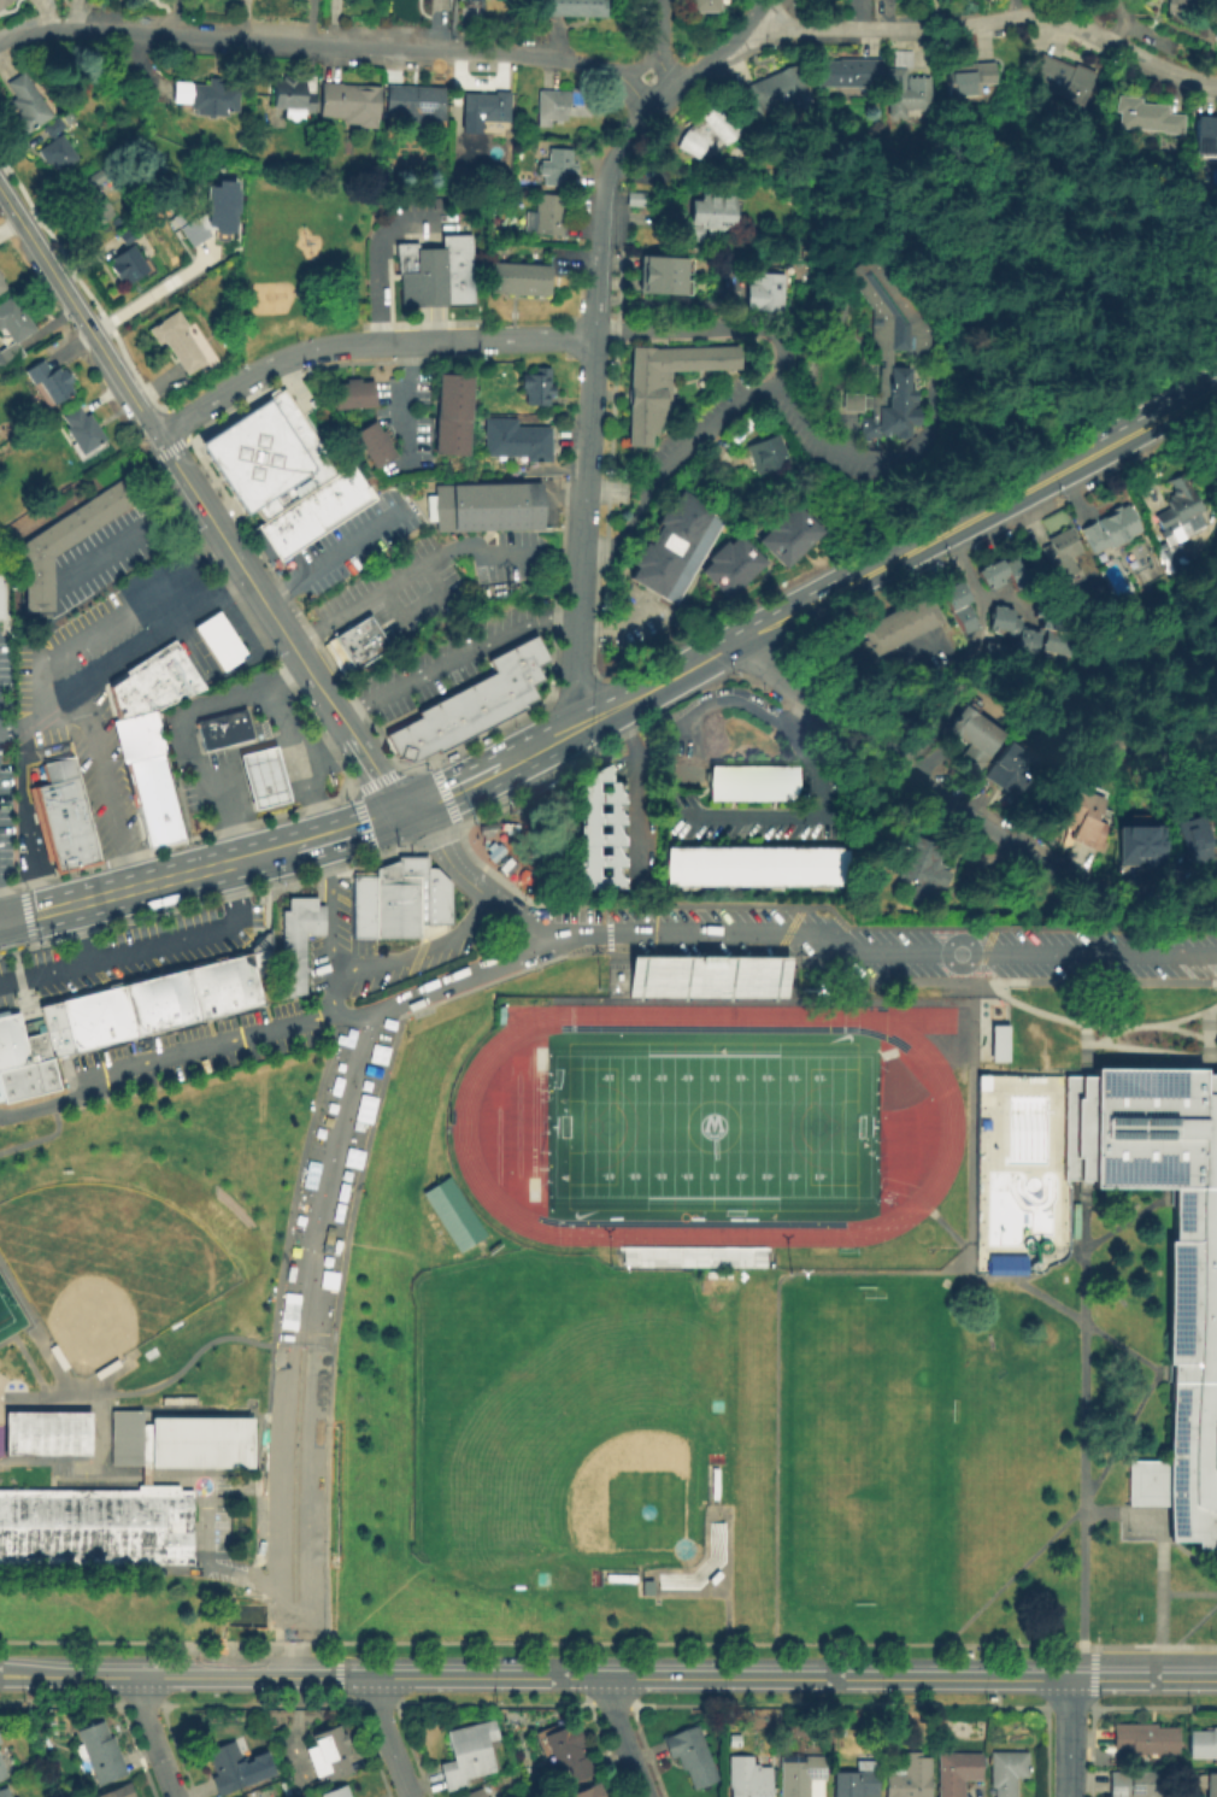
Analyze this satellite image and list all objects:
building: (6, 4)
building: (696, 6)
building: (1172, 6)
building: (572, 8)
building: (1216, 10)
road: (762, 12)
road: (996, 19)
road: (331, 45)
road: (657, 46)
road: (640, 66)
building: (841, 72)
building: (965, 77)
building: (1060, 78)
building: (904, 90)
building: (764, 92)
building: (206, 98)
building: (294, 98)
building: (25, 105)
building: (351, 105)
building: (416, 105)
building: (554, 105)
building: (486, 107)
road: (642, 113)
building: (1140, 114)
building: (880, 127)
building: (52, 128)
building: (1199, 134)
building: (699, 135)
building: (55, 154)
building: (557, 162)
building: (452, 177)
building: (95, 178)
building: (630, 198)
building: (95, 210)
building: (213, 215)
building: (540, 215)
building: (702, 216)
building: (127, 235)
road: (376, 253)
park: (306, 256)
building: (652, 265)
building: (128, 266)
building: (435, 271)
road: (433, 276)
building: (516, 280)
building: (652, 284)
road: (78, 286)
building: (2, 288)
building: (756, 290)
road: (594, 294)
road: (131, 303)
road: (680, 310)
road: (77, 313)
building: (12, 323)
road: (434, 323)
road: (422, 324)
building: (176, 339)
road: (531, 339)
road: (418, 342)
building: (883, 348)
building: (8, 356)
road: (252, 375)
building: (658, 382)
building: (48, 384)
building: (536, 388)
building: (345, 395)
building: (364, 395)
road: (407, 401)
road: (583, 404)
building: (455, 416)
road: (175, 425)
road: (707, 425)
road: (801, 430)
building: (81, 431)
building: (370, 437)
building: (516, 442)
road: (166, 448)
building: (759, 453)
building: (264, 454)
building: (381, 454)
road: (606, 483)
building: (351, 485)
building: (331, 497)
building: (529, 504)
building: (474, 505)
building: (316, 506)
building: (1171, 509)
road: (972, 512)
building: (283, 528)
building: (1103, 529)
road: (205, 535)
building: (781, 536)
road: (127, 538)
road: (535, 540)
building: (65, 544)
building: (668, 550)
building: (1056, 552)
road: (333, 557)
building: (727, 568)
building: (990, 574)
road: (407, 576)
road: (251, 585)
building: (1, 595)
road: (577, 595)
road: (1005, 598)
road: (421, 607)
building: (951, 607)
road: (111, 613)
road: (151, 618)
road: (418, 619)
building: (1057, 623)
road: (522, 626)
road: (615, 626)
building: (894, 626)
building: (1023, 638)
building: (217, 639)
building: (352, 645)
road: (122, 650)
road: (436, 653)
road: (970, 653)
road: (89, 657)
road: (134, 658)
building: (181, 664)
building: (169, 670)
road: (336, 673)
building: (157, 677)
road: (401, 683)
road: (651, 683)
building: (143, 685)
building: (127, 697)
road: (875, 697)
building: (469, 704)
road: (798, 717)
building: (135, 721)
road: (175, 727)
building: (222, 728)
building: (136, 736)
building: (972, 738)
road: (536, 741)
road: (1097, 748)
building: (140, 750)
road: (324, 750)
road: (295, 756)
road: (923, 759)
road: (247, 761)
road: (570, 763)
building: (145, 770)
road: (376, 771)
road: (811, 774)
building: (1007, 774)
building: (260, 776)
gas station: (260, 776)
road: (348, 780)
road: (105, 781)
building: (745, 783)
road: (452, 786)
road: (631, 788)
building: (149, 792)
road: (264, 793)
road: (442, 793)
road: (353, 794)
road: (870, 808)
road: (959, 808)
traffic signals: (402, 810)
road: (22, 812)
building: (60, 815)
building: (1076, 815)
building: (157, 821)
road: (347, 828)
building: (593, 833)
road: (430, 839)
building: (1192, 840)
building: (1143, 845)
road: (261, 851)
building: (918, 865)
building: (741, 868)
road: (151, 880)
road: (472, 881)
road: (517, 893)
road: (234, 894)
building: (408, 897)
road: (201, 899)
building: (360, 905)
road: (36, 910)
road: (24, 912)
road: (0, 916)
road: (0, 920)
traffic signals: (1, 920)
road: (894, 929)
road: (81, 932)
road: (581, 933)
building: (296, 945)
road: (419, 949)
road: (10, 950)
road: (909, 952)
road: (113, 956)
building: (263, 969)
building: (712, 979)
road: (1099, 983)
building: (247, 985)
building: (227, 989)
building: (205, 994)
building: (183, 1000)
road: (769, 1002)
building: (161, 1006)
building: (140, 1011)
building: (119, 1016)
road: (351, 1017)
track: (524, 1018)
building: (99, 1021)
track: (903, 1021)
road: (1028, 1022)
building: (66, 1029)
road: (980, 1033)
road: (247, 1035)
building: (996, 1041)
road: (1097, 1043)
building: (963, 1046)
building: (24, 1064)
building: (962, 1073)
building: (984, 1080)
road: (348, 1094)
track: (704, 1127)
park: (707, 1134)
road: (41, 1139)
building: (455, 1215)
road: (1127, 1222)
road: (943, 1227)
building: (1164, 1256)
building: (1000, 1264)
park: (107, 1265)
building: (718, 1274)
road: (1083, 1296)
park: (8, 1317)
road: (1075, 1317)
road: (199, 1361)
road: (775, 1380)
road: (71, 1390)
road: (283, 1391)
road: (317, 1394)
building: (176, 1400)
park: (560, 1419)
building: (46, 1432)
park: (46, 1432)
road: (1122, 1434)
park: (862, 1445)
road: (148, 1476)
road: (184, 1476)
road: (267, 1485)
building: (127, 1498)
road: (1078, 1515)
road: (294, 1540)
road: (216, 1564)
road: (1188, 1595)
road: (1195, 1626)
road: (1150, 1648)
road: (1097, 1661)
road: (147, 1672)
road: (334, 1672)
road: (490, 1673)
road: (837, 1674)
road: (1142, 1675)
road: (151, 1736)
road: (388, 1736)
road: (621, 1736)
road: (1068, 1736)
building: (1137, 1739)
road: (1083, 1740)
building: (0, 1742)
building: (734, 1742)
building: (1200, 1744)
building: (569, 1751)
building: (468, 1754)
building: (99, 1755)
building: (328, 1755)
building: (692, 1755)
building: (225, 1769)
building: (956, 1772)
building: (1006, 1772)
building: (1, 1773)
building: (800, 1775)
building: (747, 1778)
building: (910, 1778)
building: (858, 1780)
building: (1130, 1784)
building: (1207, 1785)
building: (2, 1792)
building: (120, 1792)
building: (589, 1792)
building: (337, 1793)
building: (475, 1795)
building: (243, 1796)

